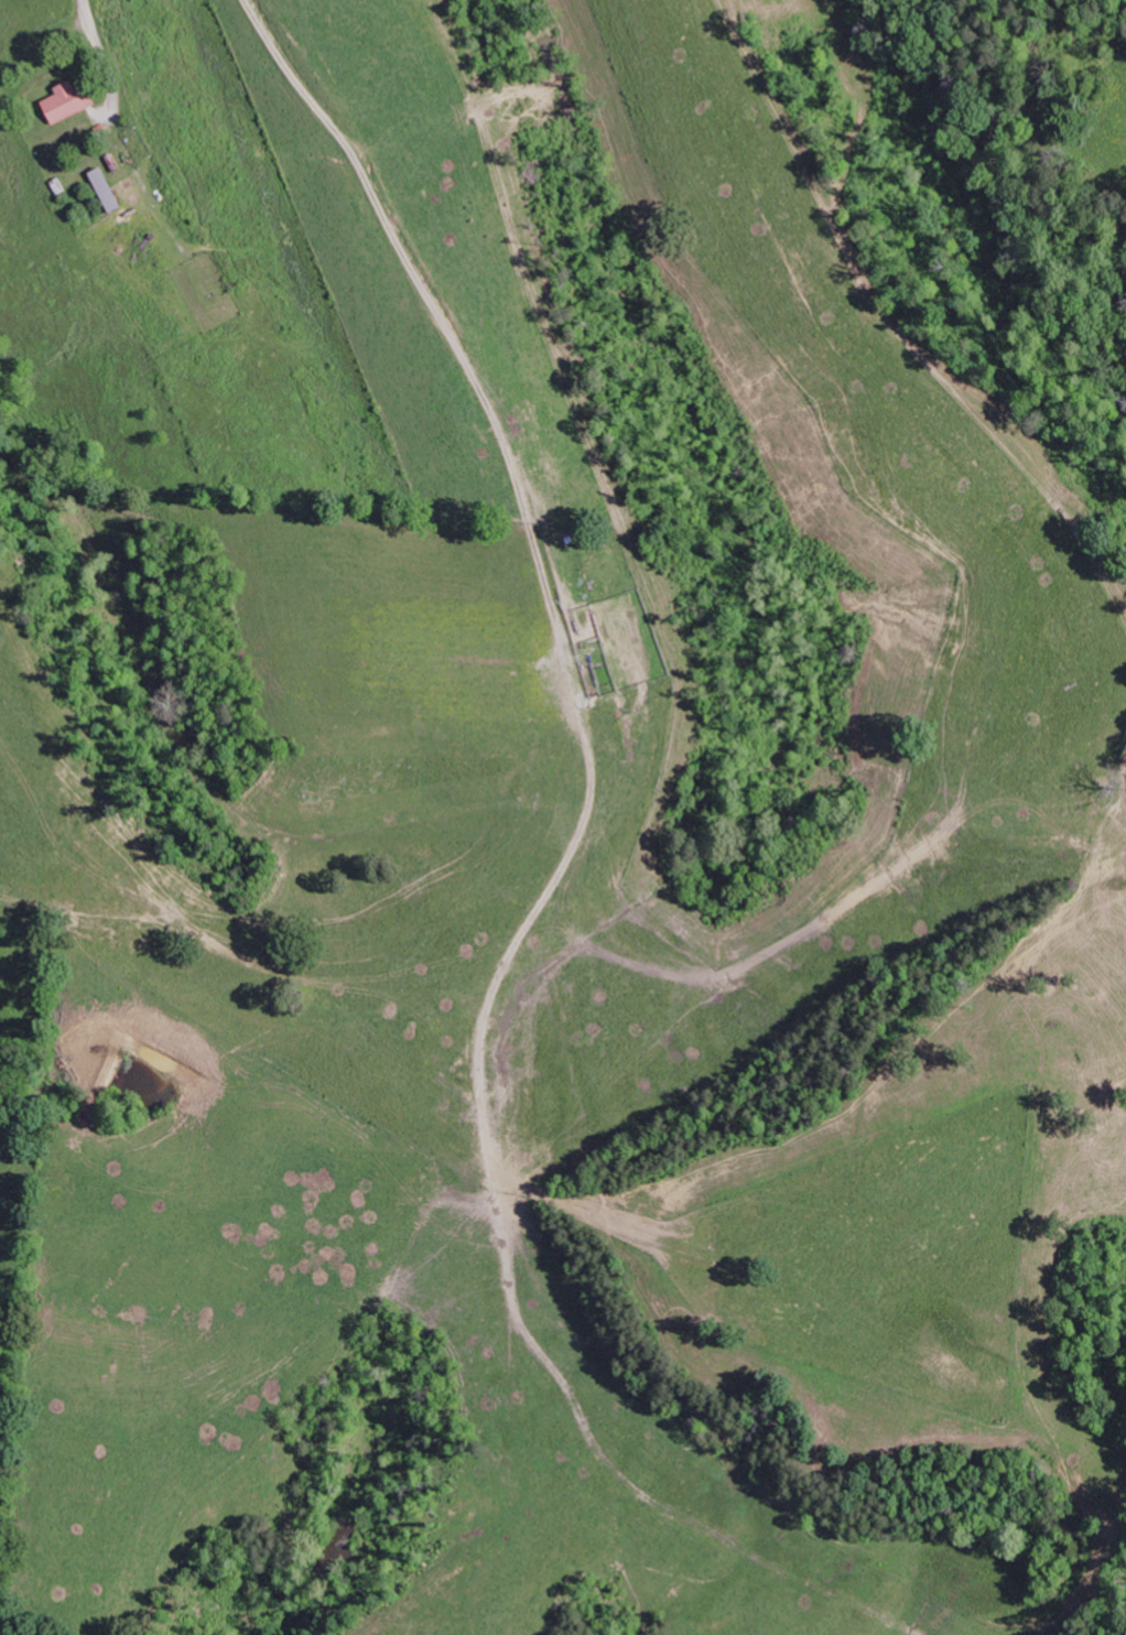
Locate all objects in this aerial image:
building: (73, 101)
building: (110, 190)

